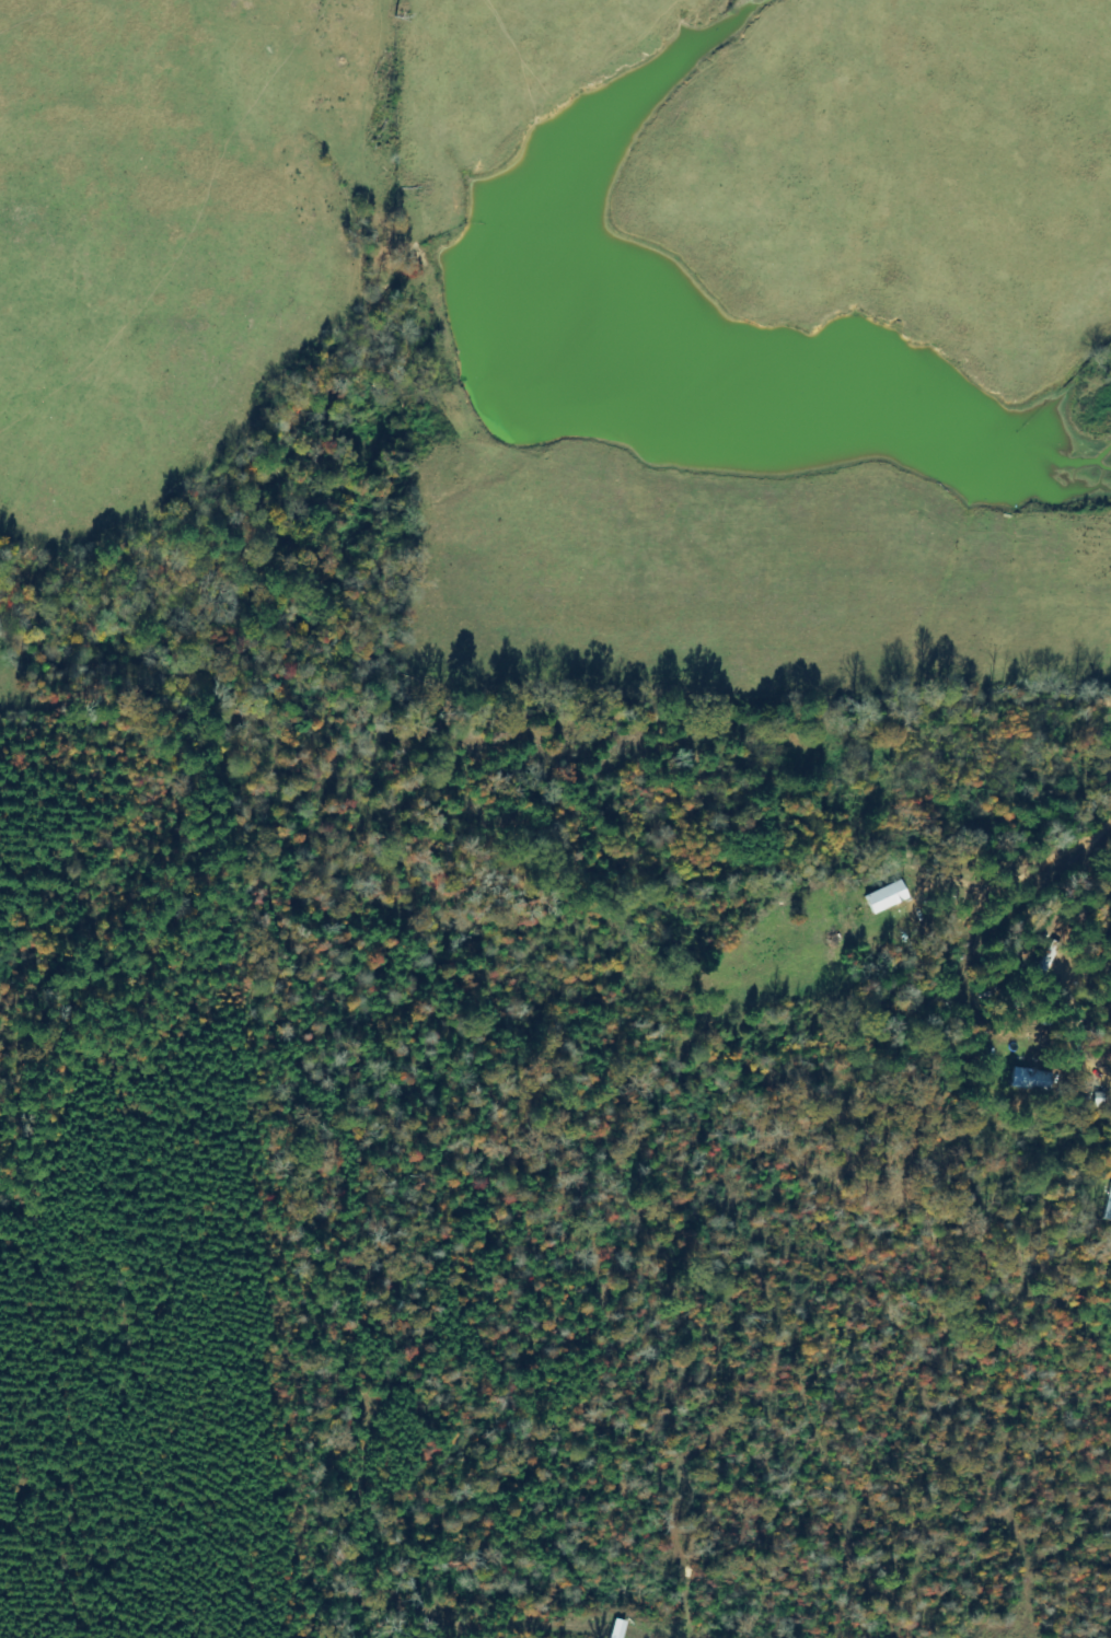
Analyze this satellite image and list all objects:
road: (504, 716)
building: (884, 897)
road: (1056, 1155)

